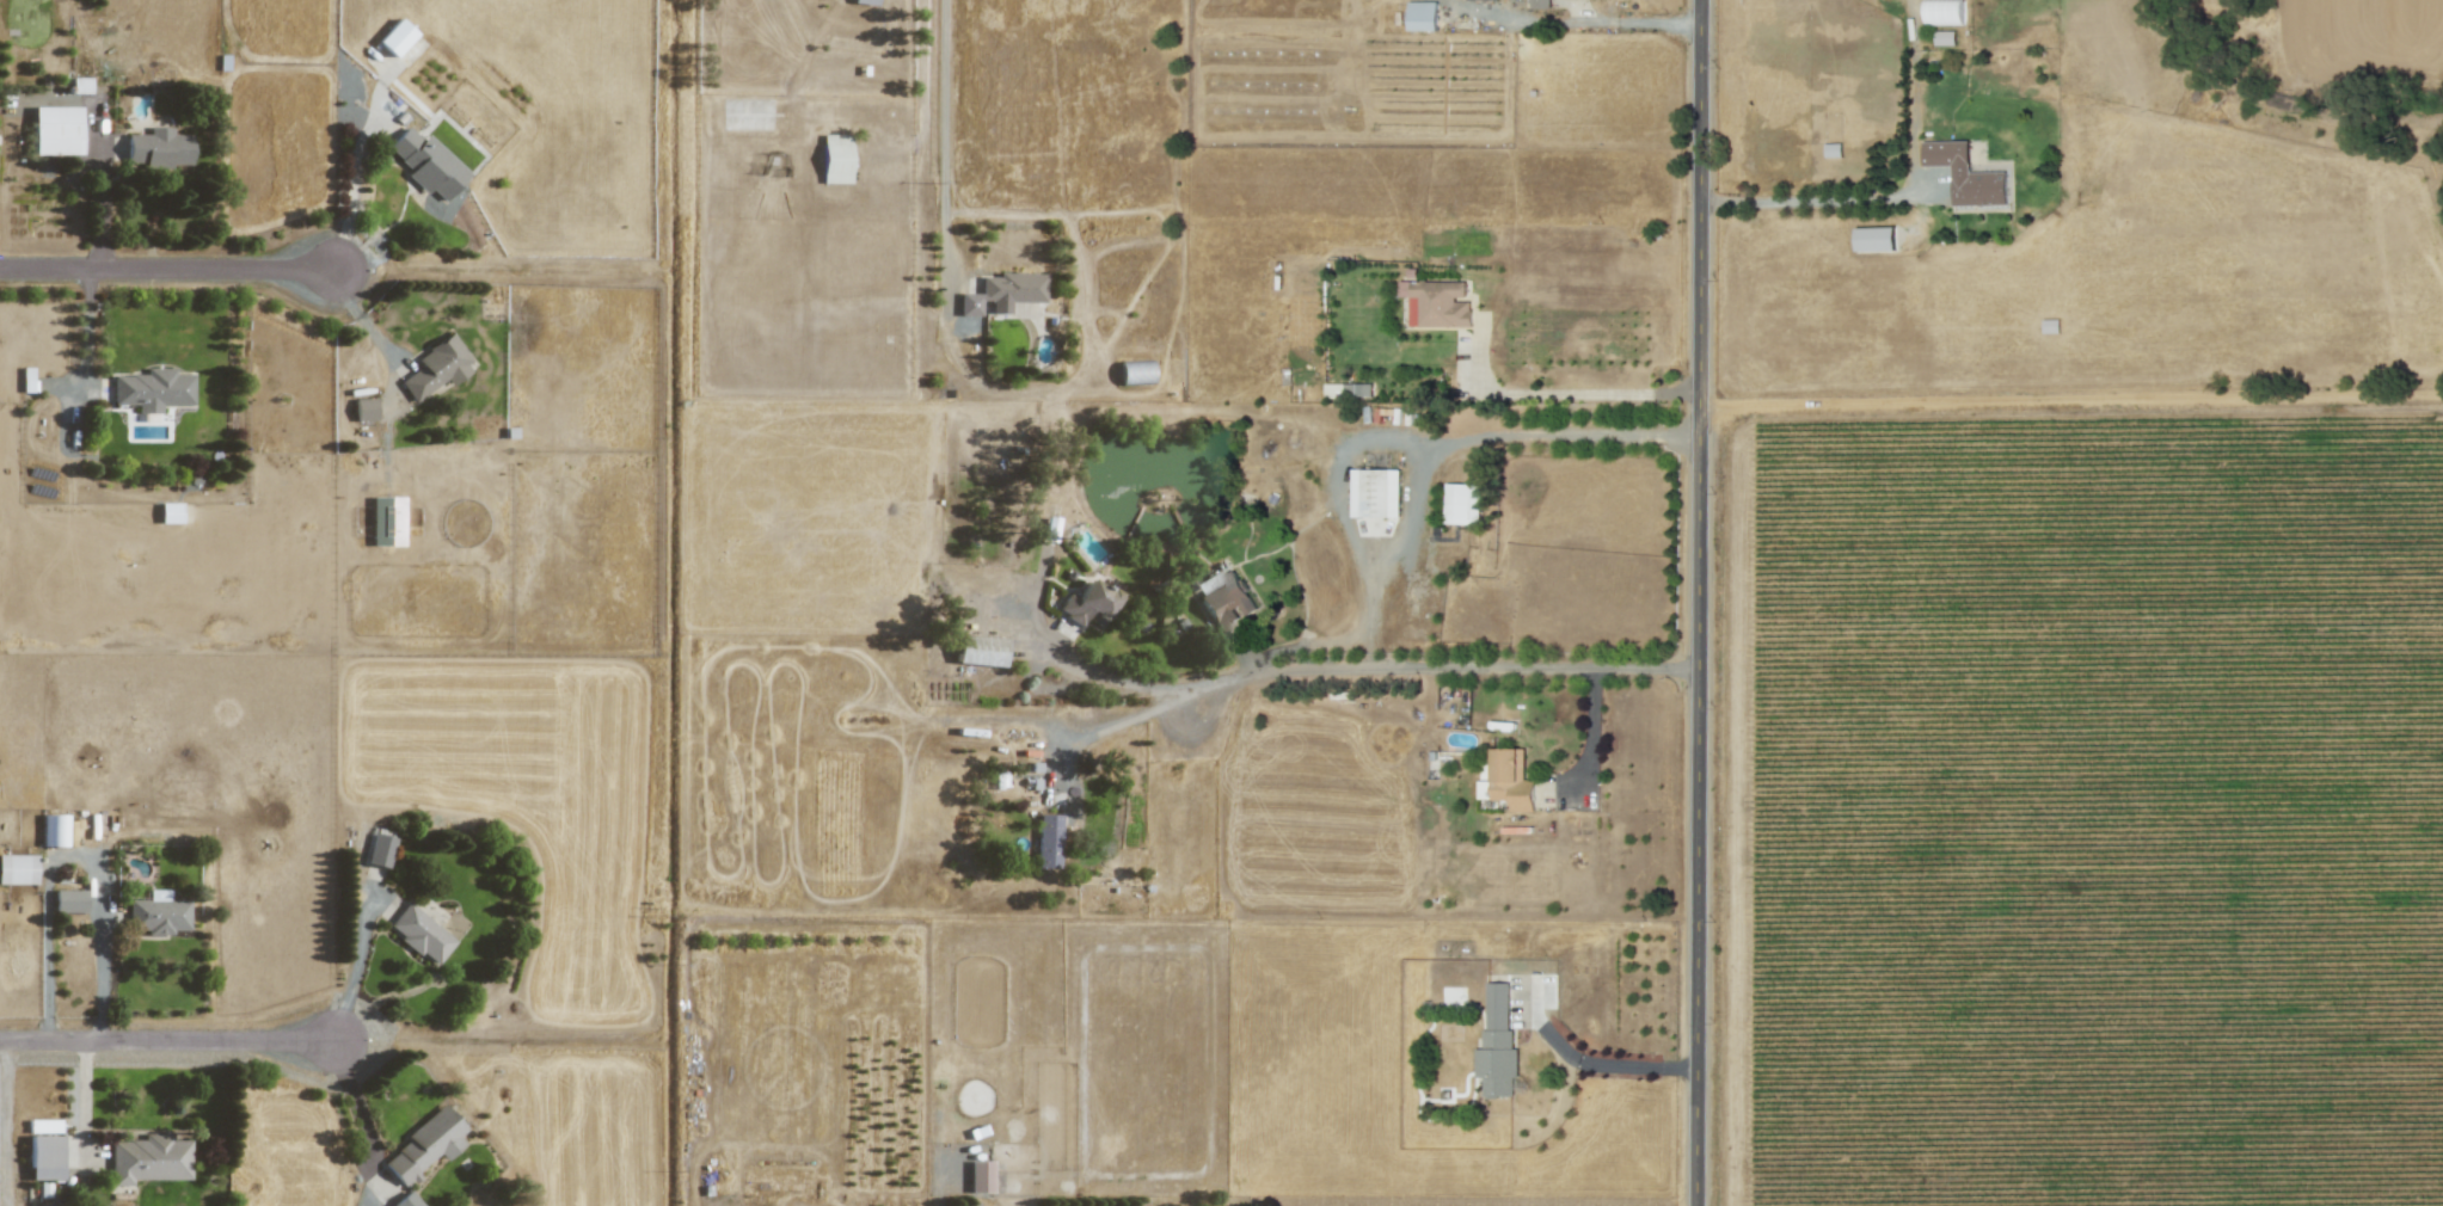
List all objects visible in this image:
building: (865, 1)
building: (1540, 4)
building: (1944, 12)
building: (1422, 16)
road: (1572, 20)
building: (395, 37)
building: (1944, 37)
building: (80, 85)
building: (55, 130)
road: (943, 136)
building: (159, 148)
building: (835, 158)
building: (428, 164)
building: (1966, 173)
road: (355, 180)
road: (102, 187)
road: (1828, 201)
road: (168, 269)
building: (1002, 293)
building: (1437, 302)
building: (2050, 325)
road: (92, 334)
road: (376, 336)
building: (436, 368)
building: (1135, 371)
building: (26, 380)
building: (153, 389)
road: (1555, 392)
building: (363, 408)
road: (1500, 438)
building: (1375, 492)
building: (1462, 503)
building: (170, 512)
building: (386, 521)
road: (1377, 560)
building: (1226, 601)
road: (1701, 602)
building: (1088, 603)
building: (980, 650)
road: (1465, 669)
road: (1190, 689)
road: (1122, 725)
road: (1595, 725)
building: (1509, 780)
building: (54, 830)
building: (1048, 841)
building: (379, 850)
building: (18, 868)
building: (68, 900)
building: (158, 913)
road: (50, 919)
building: (421, 934)
road: (102, 955)
road: (352, 964)
road: (165, 1039)
building: (1497, 1044)
road: (1589, 1063)
road: (86, 1105)
road: (8, 1121)
road: (367, 1121)
building: (424, 1146)
road: (98, 1156)
building: (44, 1157)
building: (148, 1158)
road: (940, 1175)
building: (980, 1176)
building: (406, 1200)

